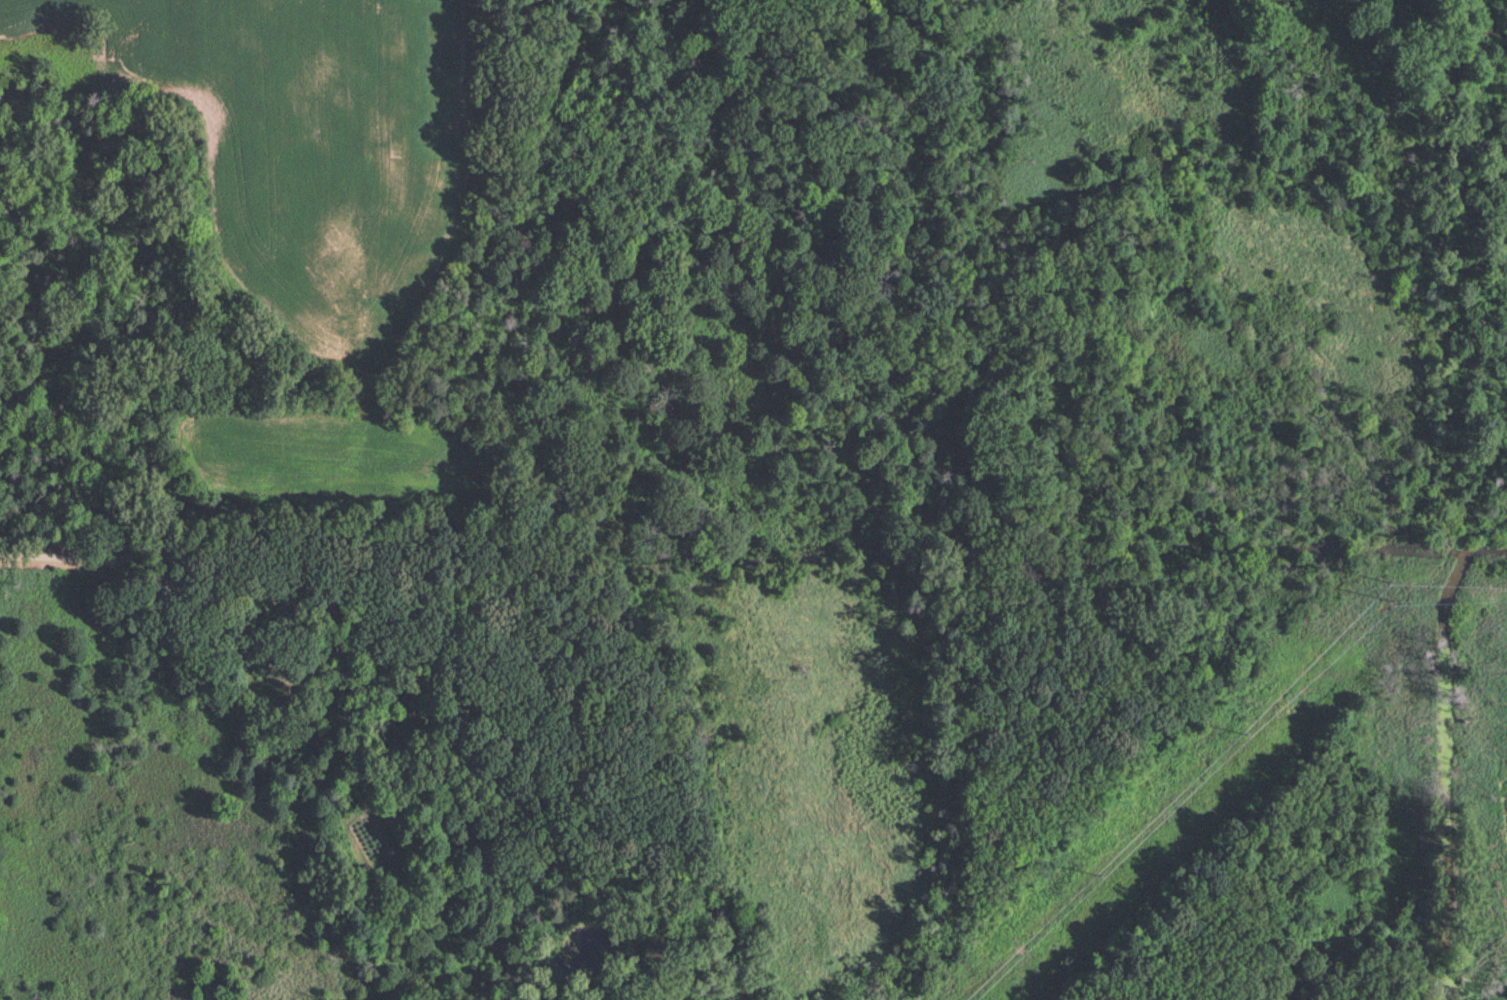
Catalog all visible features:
road: (96, 561)
building: (168, 590)
building: (371, 844)

